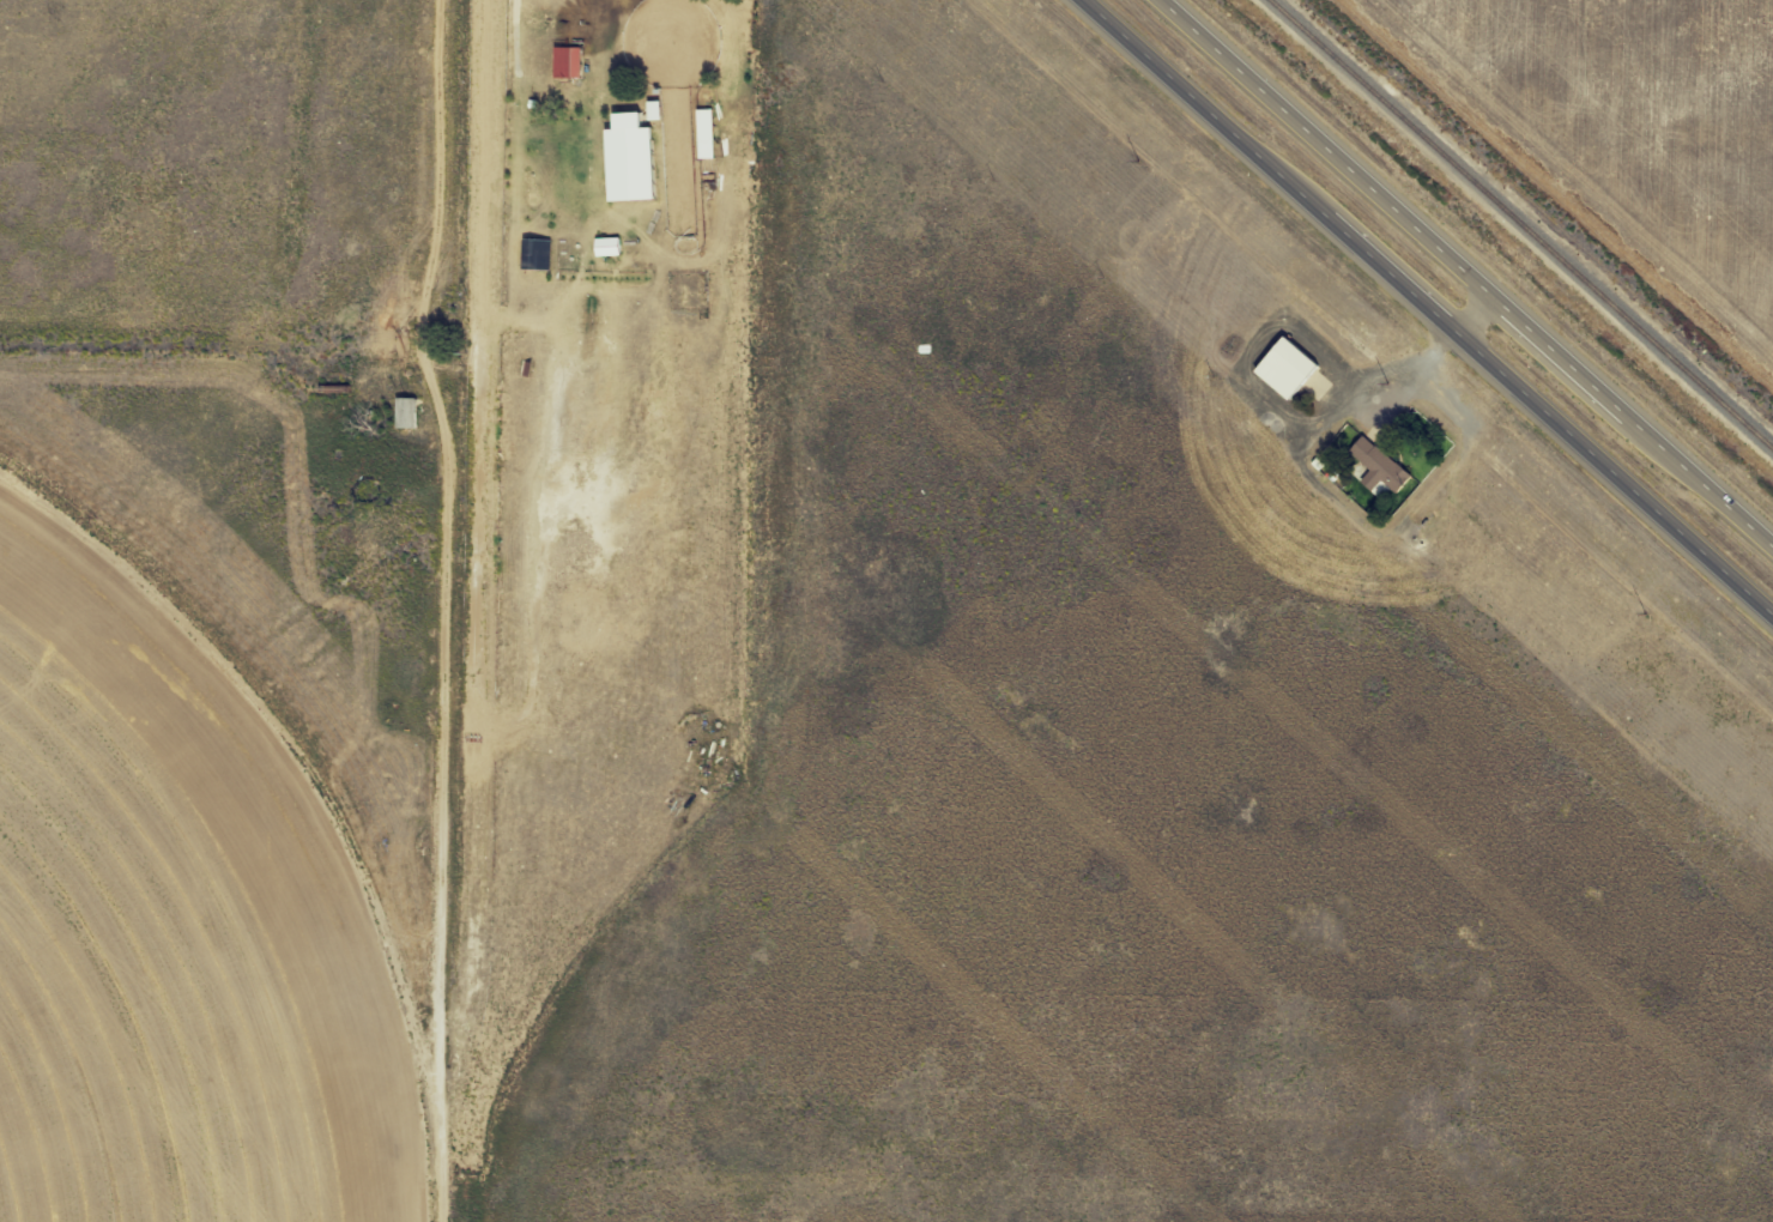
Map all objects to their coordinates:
building: (567, 62)
railway: (1520, 224)
building: (535, 254)
road: (1471, 271)
road: (1424, 309)
building: (1287, 369)
building: (405, 413)
building: (1378, 468)

